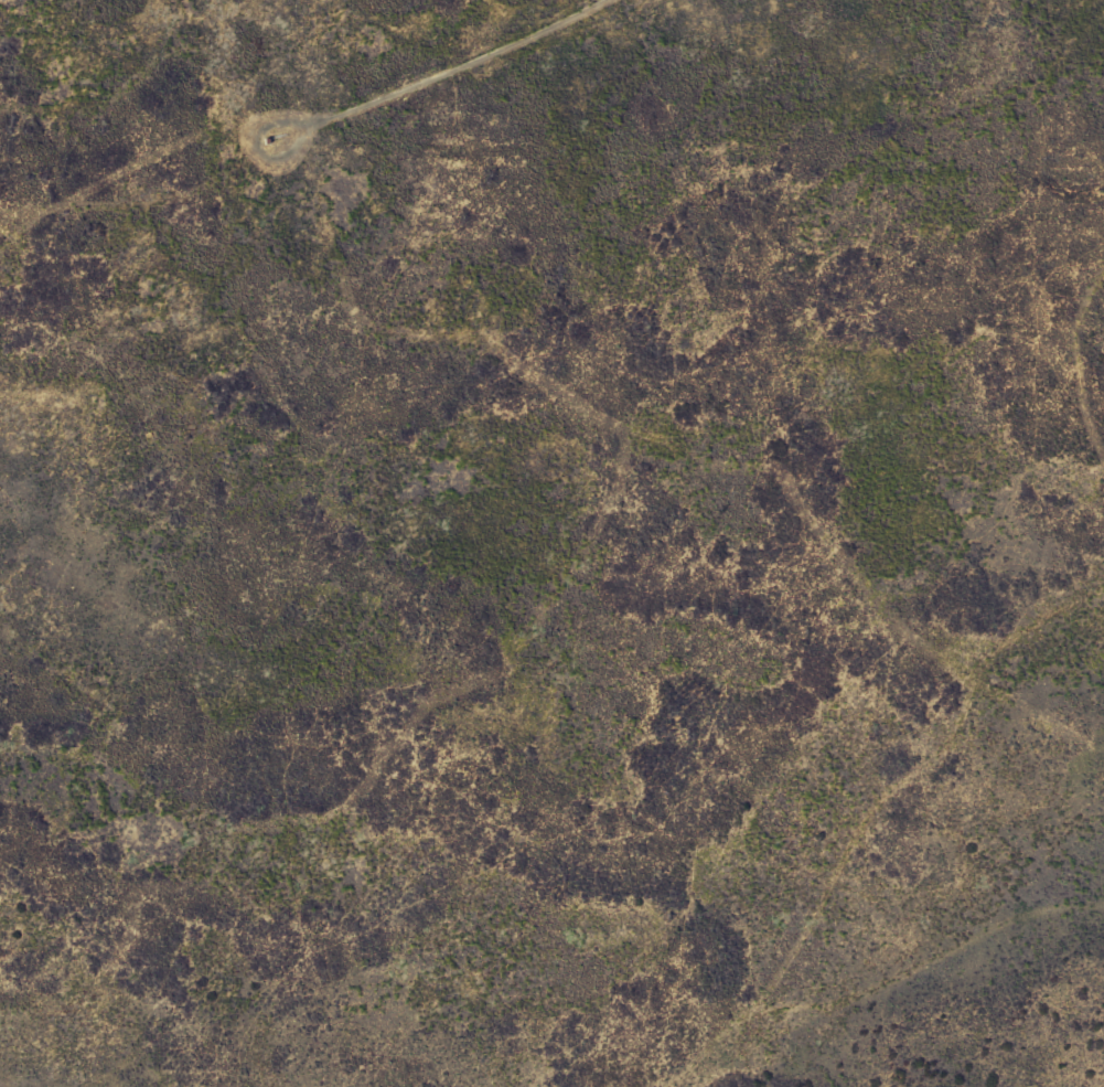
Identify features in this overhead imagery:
road: (306, 138)

